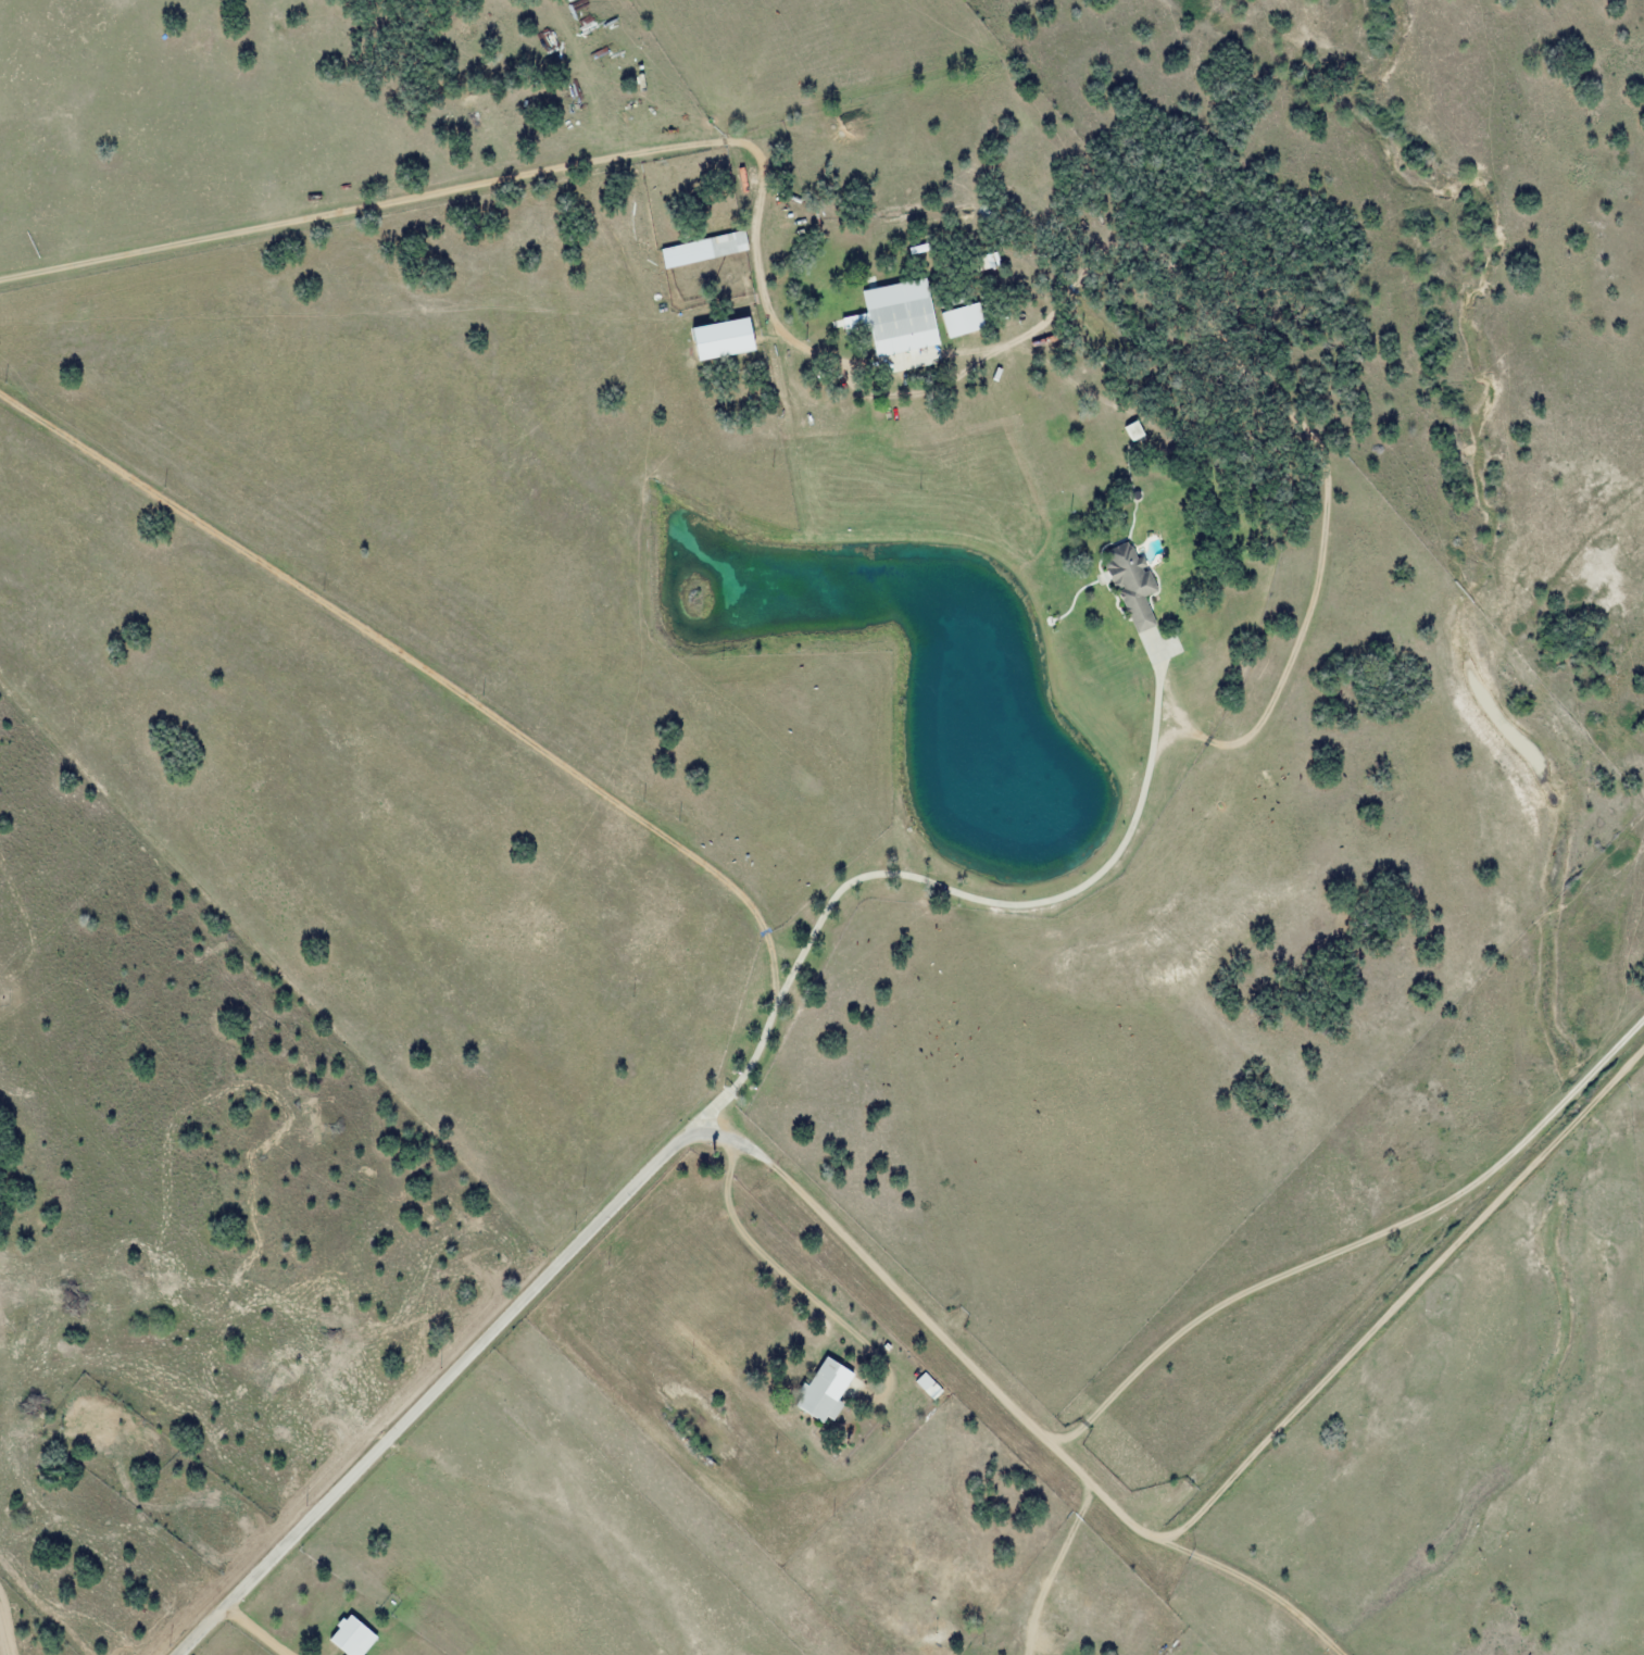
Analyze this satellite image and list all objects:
road: (673, 150)
building: (703, 247)
building: (900, 317)
building: (962, 317)
building: (1134, 430)
building: (1129, 581)
road: (485, 712)
road: (1019, 907)
road: (915, 1297)
building: (829, 1389)
road: (1254, 1584)
building: (392, 1653)

